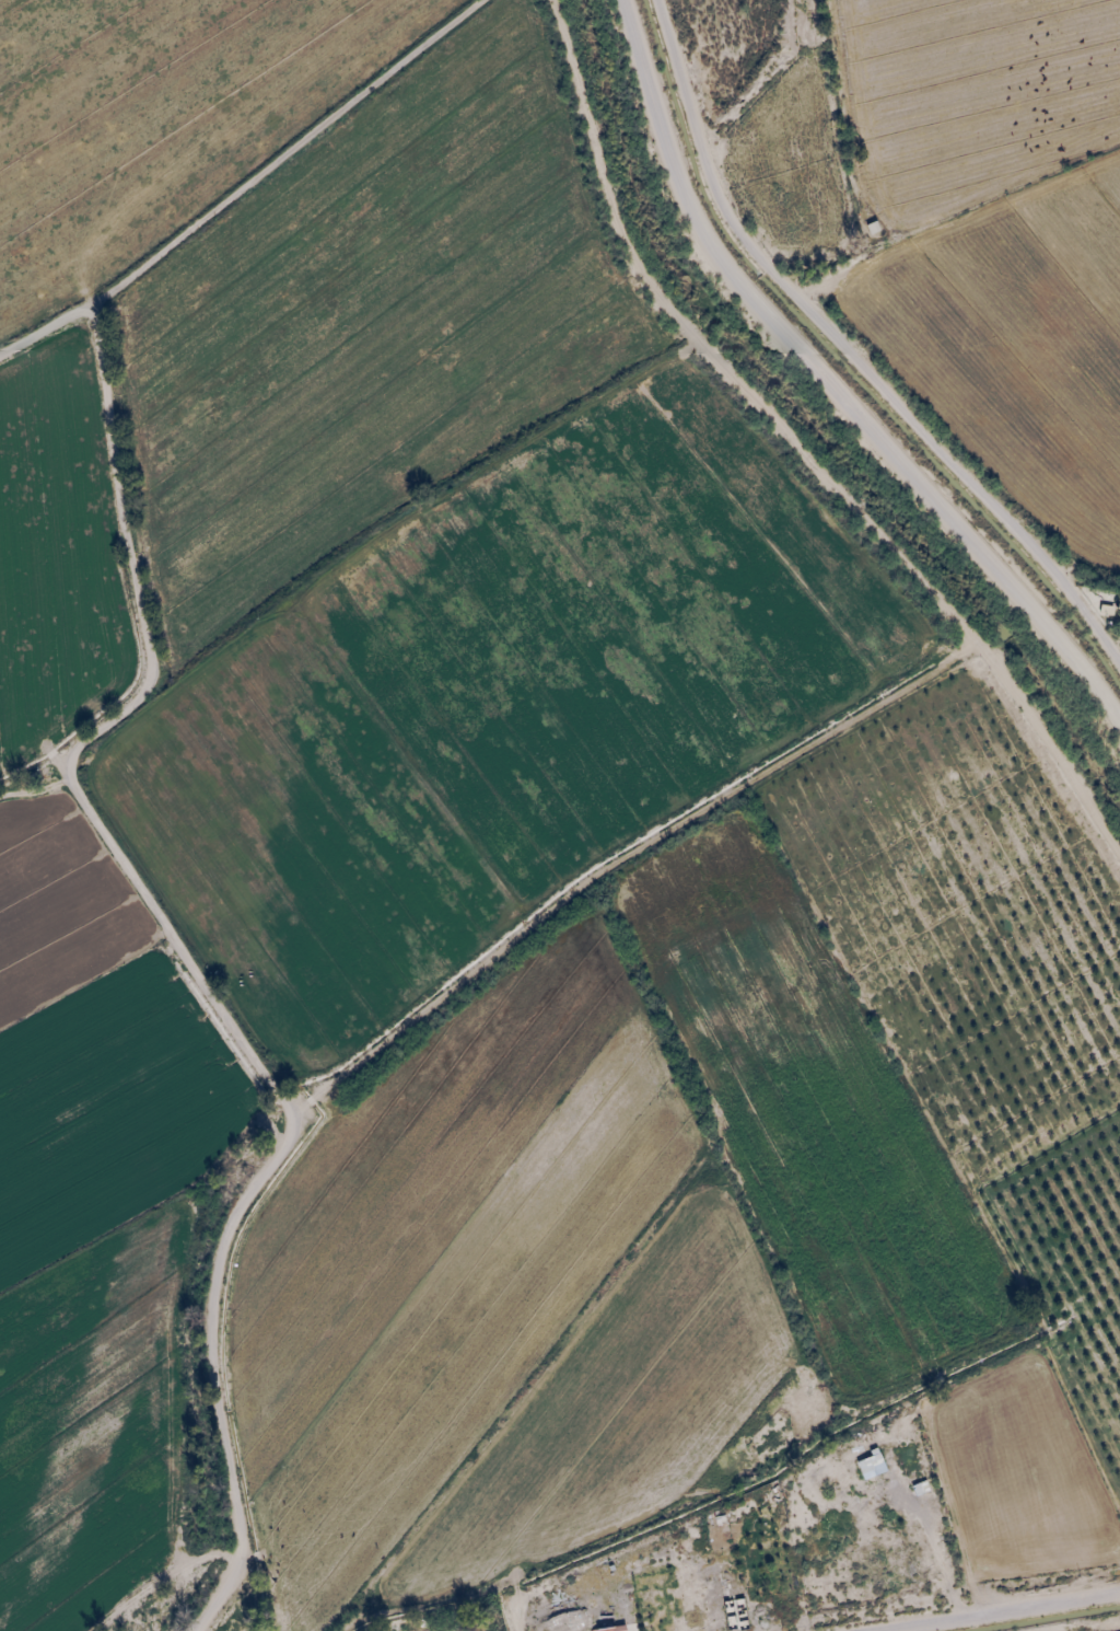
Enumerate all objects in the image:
road: (849, 357)
road: (828, 386)
road: (794, 447)

